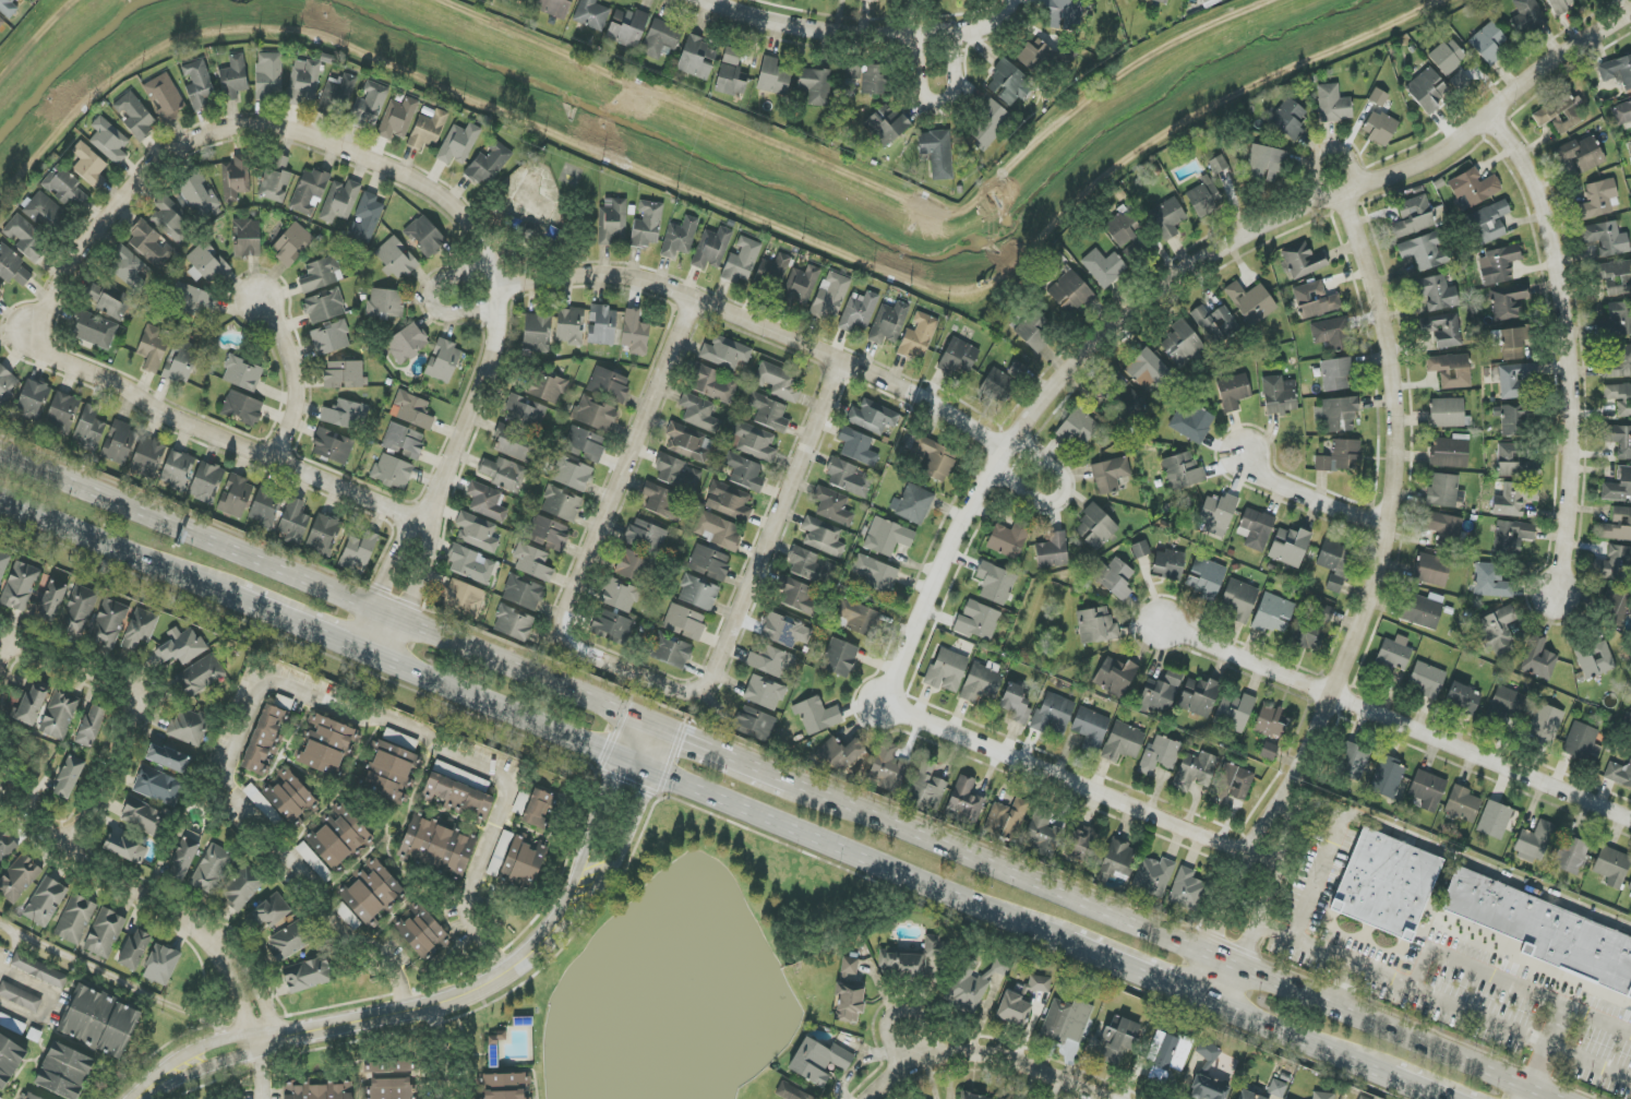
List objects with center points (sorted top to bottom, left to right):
building: (528, 0)
building: (1162, 1)
building: (1207, 1)
building: (1560, 4)
building: (8, 8)
building: (554, 8)
building: (591, 14)
building: (1065, 14)
building: (1527, 16)
building: (1, 24)
road: (979, 24)
road: (822, 25)
building: (627, 27)
building: (660, 38)
building: (1489, 43)
building: (732, 56)
building: (1043, 56)
building: (1448, 57)
building: (697, 58)
road: (939, 59)
building: (852, 71)
building: (1617, 71)
building: (268, 75)
building: (773, 76)
building: (233, 79)
building: (874, 80)
building: (303, 81)
building: (730, 81)
building: (1460, 81)
building: (1008, 83)
building: (199, 84)
building: (816, 85)
building: (1428, 89)
building: (338, 93)
building: (166, 97)
building: (1378, 97)
building: (1333, 104)
building: (371, 105)
building: (1561, 112)
building: (1622, 114)
building: (134, 116)
building: (397, 118)
building: (1290, 119)
building: (987, 122)
building: (886, 124)
building: (1380, 128)
building: (428, 130)
building: (109, 140)
building: (458, 144)
building: (937, 153)
road: (1326, 153)
building: (1582, 153)
road: (362, 156)
building: (1630, 163)
building: (488, 164)
building: (89, 165)
building: (1218, 165)
building: (1266, 165)
building: (236, 178)
building: (276, 179)
building: (64, 188)
building: (1474, 188)
building: (309, 192)
building: (197, 195)
building: (1203, 196)
building: (1598, 199)
building: (340, 201)
building: (1414, 216)
building: (1167, 217)
building: (365, 218)
building: (171, 220)
building: (612, 222)
building: (1489, 222)
building: (647, 225)
building: (1122, 228)
building: (425, 236)
building: (23, 237)
building: (247, 238)
building: (680, 238)
building: (1606, 238)
building: (291, 244)
building: (149, 246)
building: (711, 249)
building: (1424, 252)
building: (396, 259)
building: (742, 261)
building: (1303, 261)
building: (206, 264)
building: (1498, 265)
building: (12, 266)
building: (127, 267)
building: (1103, 267)
building: (772, 273)
building: (320, 274)
road: (1178, 277)
building: (1616, 277)
building: (803, 284)
building: (1, 285)
building: (1071, 292)
building: (1437, 292)
building: (830, 295)
building: (0, 298)
building: (190, 299)
building: (109, 300)
building: (1316, 300)
building: (1508, 301)
building: (1251, 302)
building: (386, 303)
building: (324, 306)
building: (859, 311)
building: (1617, 320)
building: (1225, 322)
building: (889, 323)
building: (602, 325)
building: (1208, 325)
building: (569, 326)
road: (765, 327)
building: (95, 330)
building: (1444, 331)
building: (537, 333)
building: (635, 333)
building: (1034, 333)
building: (1332, 333)
building: (919, 337)
building: (331, 338)
building: (1513, 342)
building: (407, 343)
building: (1183, 345)
road: (1566, 345)
building: (154, 347)
building: (725, 353)
building: (958, 357)
building: (444, 361)
building: (180, 362)
building: (1617, 362)
building: (1451, 370)
building: (1338, 373)
building: (242, 374)
building: (344, 374)
road: (295, 378)
building: (1516, 380)
building: (1002, 381)
building: (778, 382)
building: (7, 384)
building: (609, 384)
building: (712, 384)
building: (547, 387)
building: (1233, 392)
building: (1279, 395)
building: (1619, 397)
building: (33, 399)
building: (242, 408)
building: (1130, 408)
building: (411, 410)
building: (62, 413)
building: (699, 413)
building: (769, 413)
building: (1448, 413)
building: (525, 414)
building: (595, 414)
building: (345, 415)
building: (1340, 415)
building: (870, 418)
building: (1514, 420)
building: (1191, 423)
building: (1078, 427)
building: (89, 429)
road: (223, 439)
building: (1619, 440)
building: (404, 441)
building: (687, 442)
building: (754, 442)
building: (119, 443)
building: (514, 444)
building: (585, 444)
building: (333, 445)
building: (858, 446)
road: (1394, 446)
building: (1451, 452)
building: (1340, 456)
building: (147, 457)
building: (935, 458)
building: (1515, 462)
road: (623, 463)
building: (177, 470)
building: (392, 471)
building: (1183, 471)
building: (744, 473)
building: (504, 474)
building: (572, 474)
building: (677, 474)
building: (1110, 475)
building: (848, 478)
building: (206, 482)
building: (1618, 486)
building: (1444, 491)
building: (236, 497)
building: (1513, 499)
road: (1311, 500)
building: (485, 501)
building: (661, 501)
building: (729, 501)
building: (561, 504)
building: (912, 504)
building: (832, 506)
building: (264, 509)
building: (1219, 513)
building: (293, 523)
building: (1616, 526)
building: (1095, 527)
building: (1444, 527)
road: (770, 529)
building: (1257, 529)
building: (718, 530)
building: (477, 533)
building: (548, 533)
building: (324, 535)
building: (646, 535)
building: (823, 537)
building: (887, 537)
building: (1512, 537)
building: (1009, 539)
road: (117, 547)
building: (1290, 547)
building: (1141, 549)
building: (359, 551)
building: (1053, 551)
building: (532, 562)
building: (709, 563)
building: (1334, 563)
building: (3, 564)
building: (471, 564)
building: (1170, 564)
building: (1615, 564)
building: (635, 566)
building: (811, 566)
building: (1431, 570)
building: (876, 574)
building: (1114, 578)
building: (1206, 578)
road: (316, 580)
road: (383, 580)
building: (1490, 582)
building: (995, 583)
building: (20, 586)
road: (416, 592)
building: (523, 593)
building: (698, 593)
building: (620, 596)
building: (797, 596)
building: (464, 597)
building: (1239, 600)
building: (49, 601)
building: (1615, 606)
building: (79, 610)
building: (1422, 610)
building: (1273, 613)
building: (1324, 613)
building: (858, 617)
building: (978, 621)
building: (684, 622)
building: (108, 623)
building: (513, 623)
building: (612, 624)
building: (1096, 625)
building: (140, 629)
road: (311, 629)
building: (781, 631)
building: (1498, 631)
building: (1308, 635)
building: (181, 646)
building: (671, 652)
building: (1394, 653)
road: (7, 657)
building: (840, 657)
building: (1538, 659)
building: (1595, 659)
building: (771, 661)
road: (624, 669)
building: (947, 670)
building: (200, 677)
building: (1115, 677)
road: (259, 679)
building: (1427, 680)
building: (981, 684)
building: (764, 693)
building: (1199, 696)
building: (1464, 697)
building: (1016, 703)
building: (32, 704)
building: (1503, 704)
road: (141, 705)
road: (503, 710)
building: (1235, 712)
building: (59, 715)
building: (816, 715)
building: (1053, 715)
building: (1271, 721)
road: (1394, 722)
building: (754, 724)
building: (1628, 724)
road: (650, 725)
building: (1545, 725)
building: (92, 726)
building: (188, 727)
building: (1091, 729)
road: (624, 738)
building: (265, 740)
building: (1123, 742)
building: (1582, 742)
building: (325, 744)
building: (1269, 751)
road: (660, 752)
building: (840, 753)
building: (1160, 755)
building: (168, 757)
building: (897, 757)
building: (1353, 761)
road: (635, 765)
building: (1196, 771)
building: (389, 773)
building: (1619, 774)
building: (461, 775)
road: (776, 776)
building: (67, 777)
building: (1388, 777)
building: (1233, 784)
building: (158, 786)
building: (926, 787)
road: (1083, 787)
building: (1427, 790)
building: (459, 796)
building: (290, 798)
building: (967, 801)
building: (520, 803)
building: (1462, 804)
building: (538, 809)
road: (637, 813)
building: (144, 816)
building: (995, 819)
building: (1015, 819)
building: (1495, 820)
building: (0, 824)
road: (593, 827)
building: (1043, 834)
building: (339, 838)
building: (1081, 843)
building: (1535, 843)
road: (1252, 844)
building: (5, 845)
building: (439, 847)
building: (125, 849)
road: (840, 850)
building: (500, 853)
road: (1280, 855)
building: (1571, 855)
road: (1466, 858)
building: (183, 859)
building: (311, 859)
building: (524, 860)
building: (1116, 860)
building: (1612, 867)
building: (211, 869)
road: (93, 871)
road: (1321, 874)
building: (1153, 876)
building: (19, 879)
road: (603, 880)
building: (1382, 885)
building: (241, 886)
building: (1630, 886)
building: (1185, 889)
building: (373, 893)
building: (45, 901)
building: (271, 911)
building: (75, 920)
building: (421, 932)
building: (105, 933)
building: (1542, 933)
building: (289, 941)
road: (1303, 944)
building: (133, 948)
road: (1225, 956)
building: (910, 958)
road: (2, 963)
building: (161, 965)
road: (1118, 965)
building: (849, 966)
road: (1478, 967)
building: (38, 970)
building: (307, 976)
road: (118, 982)
road: (254, 983)
building: (1040, 983)
building: (968, 990)
road: (236, 991)
building: (20, 998)
road: (1431, 998)
building: (848, 1002)
road: (49, 1003)
building: (1014, 1010)
road: (899, 1011)
road: (1562, 1011)
road: (368, 1015)
building: (1064, 1019)
building: (99, 1023)
road: (1299, 1039)
building: (1118, 1040)
road: (983, 1053)
building: (1208, 1053)
building: (1168, 1056)
building: (9, 1060)
building: (818, 1061)
road: (1590, 1063)
road: (263, 1066)
building: (64, 1072)
building: (505, 1082)
road: (1418, 1087)
building: (1276, 1088)
building: (1208, 1089)
building: (322, 1091)
road: (1528, 1091)
building: (792, 1092)
building: (504, 1095)
building: (1248, 1095)
building: (1322, 1096)
building: (32, 1097)
building: (978, 1097)
building: (1007, 1098)
building: (1363, 1098)

